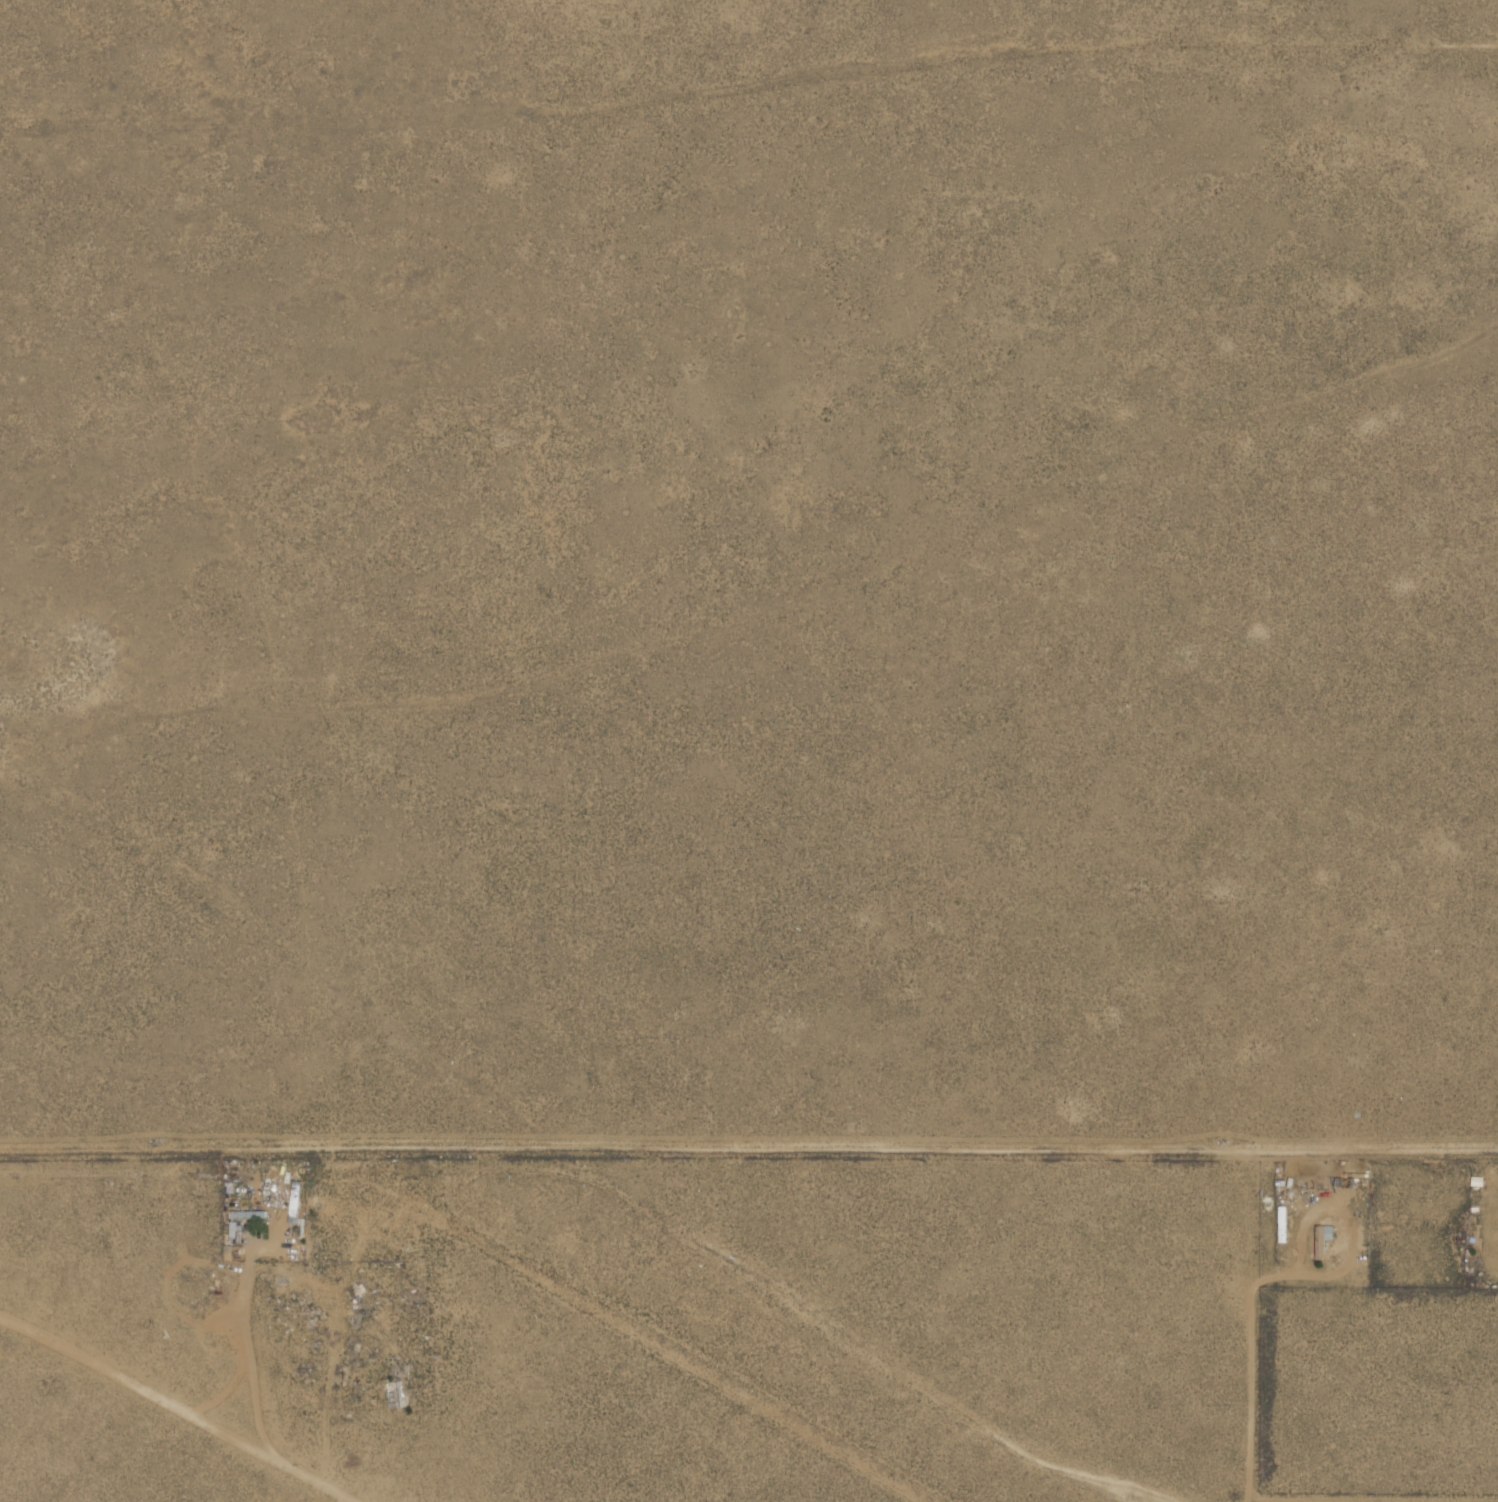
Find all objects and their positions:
road: (749, 1147)
building: (295, 1208)
building: (248, 1215)
building: (1283, 1224)
building: (1315, 1242)
building: (288, 1311)
road: (249, 1350)
road: (223, 1392)
building: (394, 1395)
road: (184, 1406)
road: (348, 1497)

